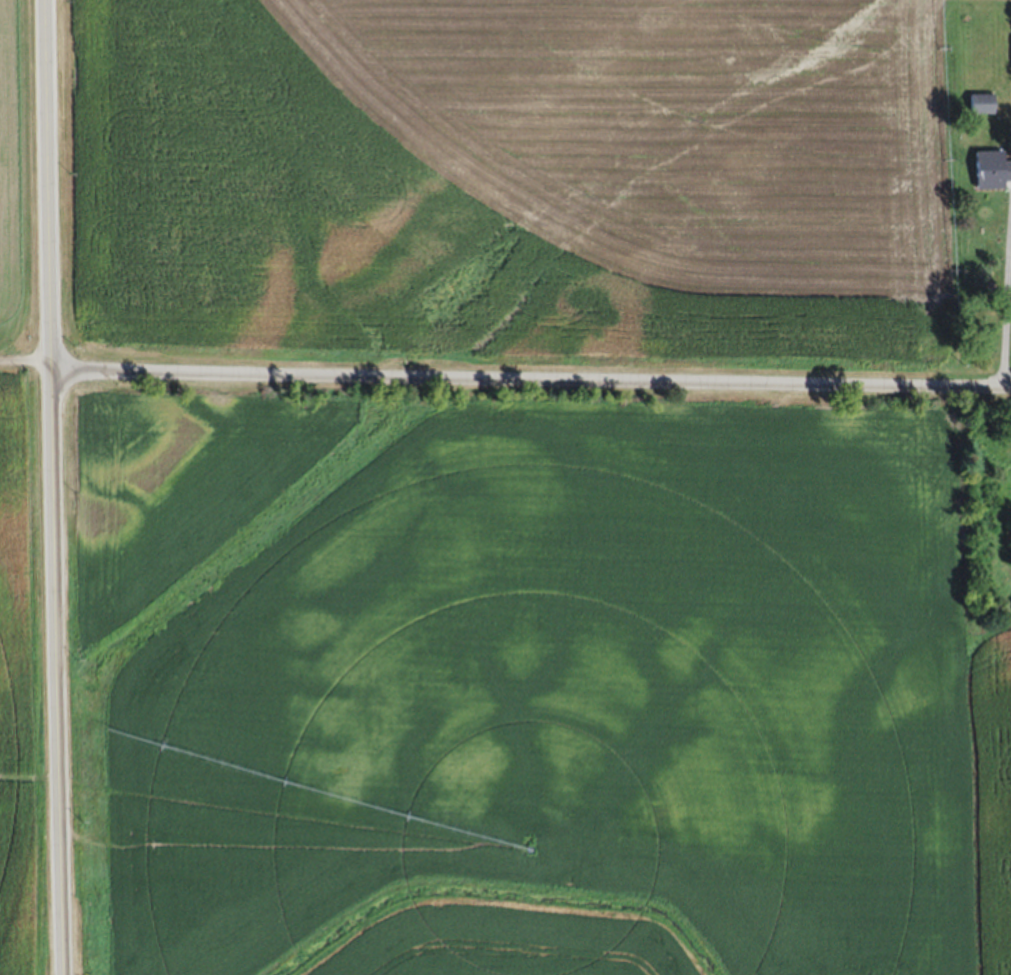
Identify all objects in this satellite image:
building: (995, 168)
road: (1004, 300)
road: (25, 358)
road: (530, 377)
road: (53, 487)

